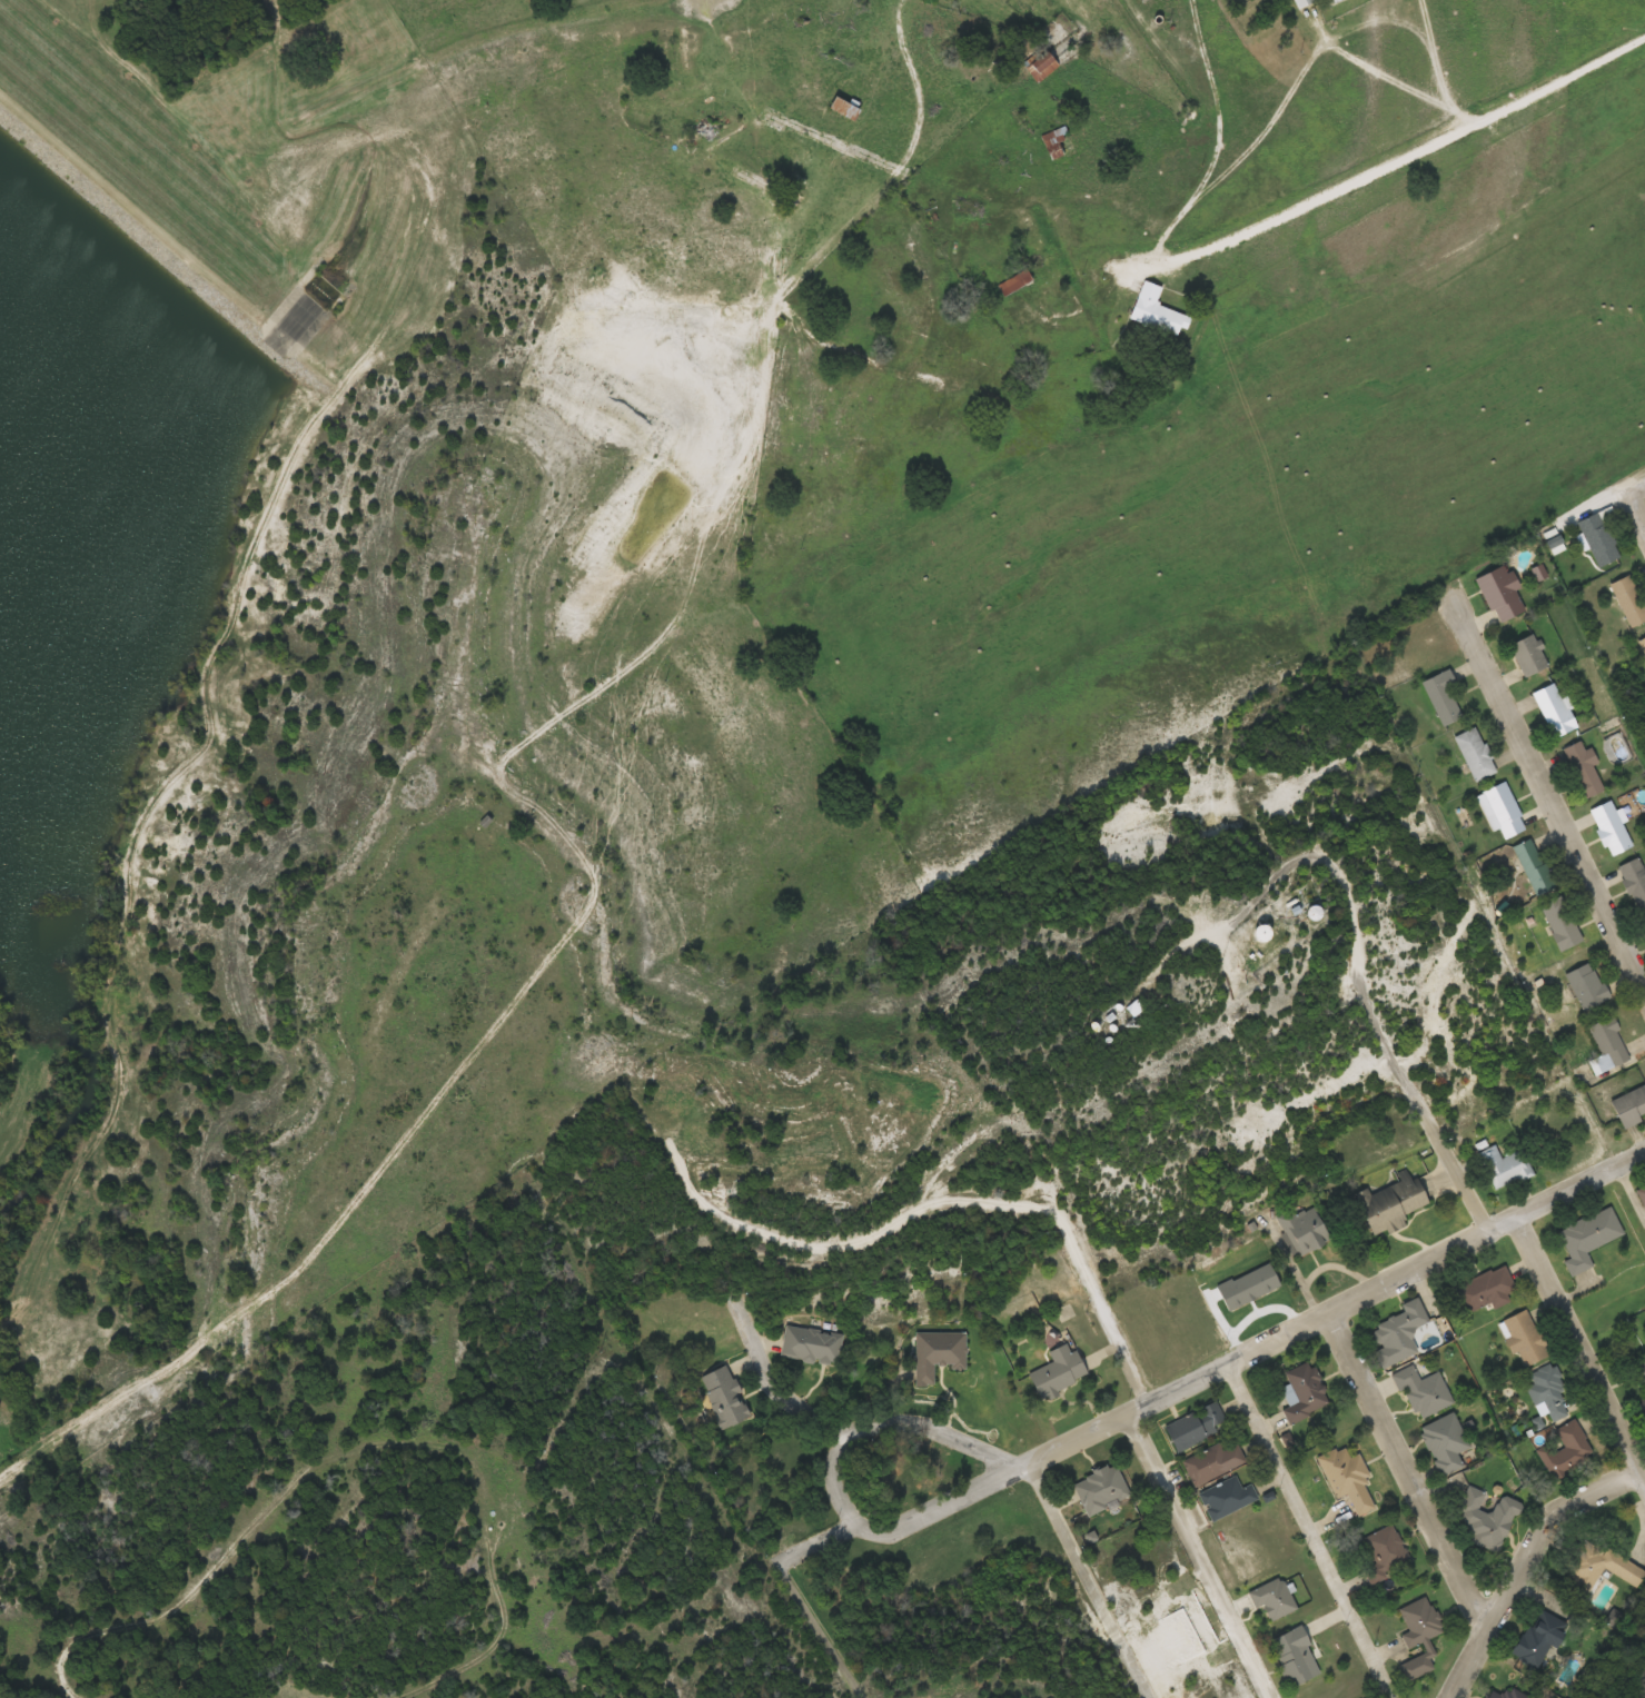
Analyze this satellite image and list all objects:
building: (1332, 1)
building: (1300, 2)
road: (1427, 23)
road: (1328, 38)
road: (1368, 64)
building: (1042, 67)
road: (1564, 77)
building: (844, 108)
road: (1218, 138)
dam: (157, 187)
road: (1321, 192)
road: (864, 205)
building: (1015, 282)
building: (1157, 311)
road: (1641, 503)
road: (1641, 515)
building: (1598, 539)
building: (1500, 593)
building: (1628, 600)
building: (1642, 644)
building: (1528, 655)
building: (1444, 698)
building: (1554, 709)
building: (1475, 754)
building: (1584, 769)
road: (1547, 795)
building: (1505, 810)
building: (1611, 828)
building: (1534, 866)
building: (1634, 881)
building: (1315, 913)
building: (1560, 922)
building: (1262, 933)
building: (1586, 986)
building: (1609, 1041)
building: (1631, 1106)
building: (1505, 1168)
building: (1641, 1194)
building: (1390, 1203)
building: (1302, 1230)
building: (1588, 1239)
building: (1485, 1290)
road: (1329, 1313)
building: (1399, 1334)
building: (1524, 1338)
building: (812, 1346)
building: (938, 1354)
road: (1577, 1357)
building: (1059, 1372)
road: (787, 1383)
building: (1423, 1391)
building: (1304, 1392)
building: (1548, 1393)
building: (725, 1397)
building: (1643, 1397)
building: (1196, 1427)
building: (1445, 1443)
building: (1565, 1450)
building: (1212, 1462)
road: (1406, 1477)
building: (1348, 1479)
road: (831, 1484)
building: (1101, 1489)
building: (1227, 1497)
building: (1486, 1520)
road: (1306, 1532)
building: (1386, 1551)
road: (1201, 1556)
road: (1523, 1566)
building: (1603, 1568)
road: (1090, 1580)
road: (800, 1592)
building: (1274, 1599)
building: (1419, 1636)
building: (1540, 1639)
building: (1295, 1657)
building: (1503, 1691)

